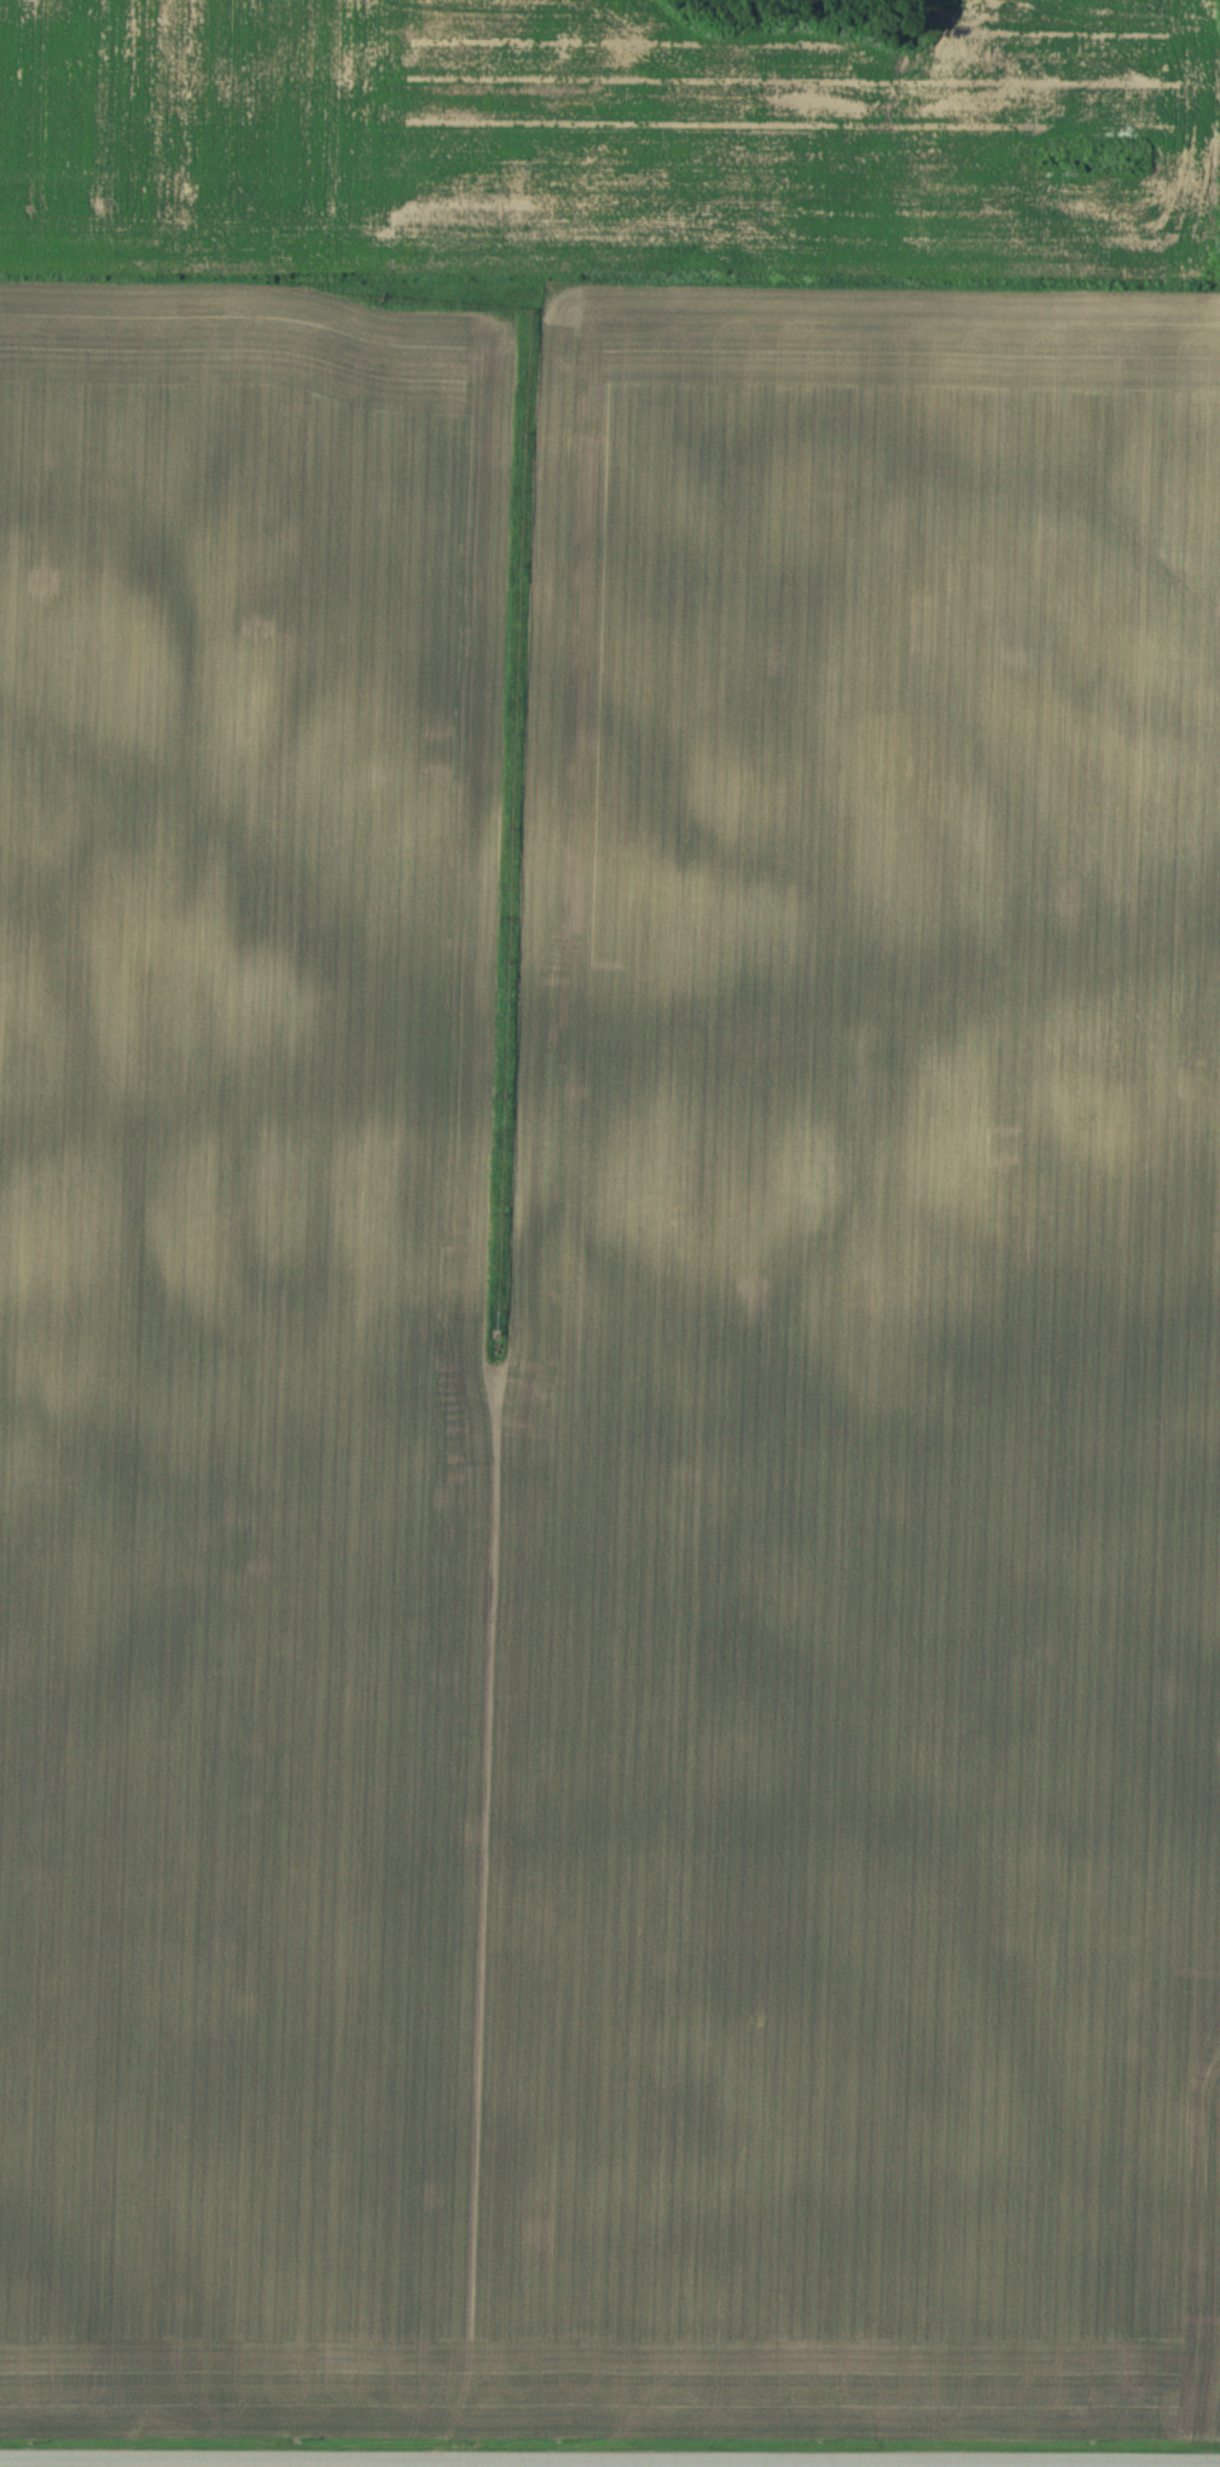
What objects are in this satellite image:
road: (610, 2461)

